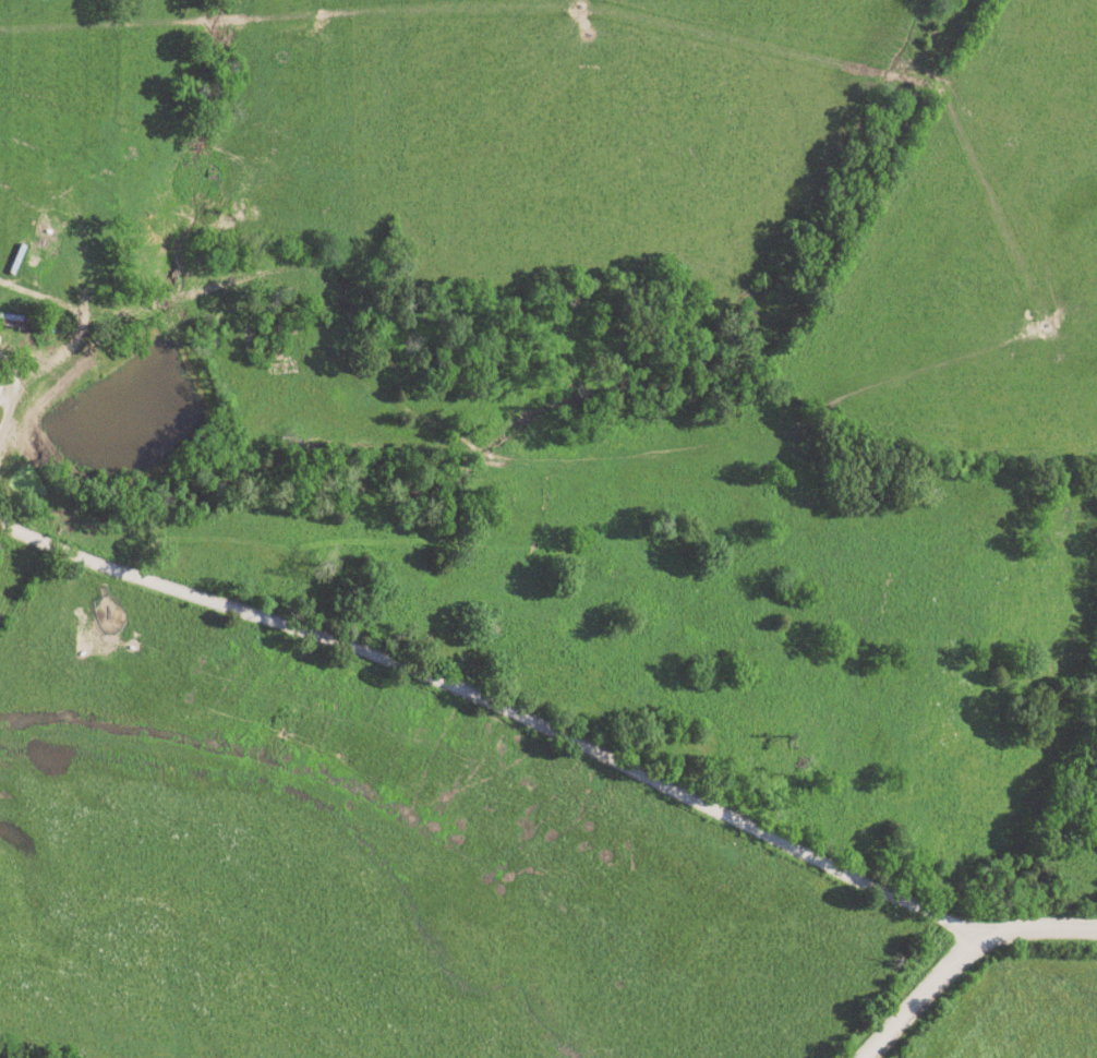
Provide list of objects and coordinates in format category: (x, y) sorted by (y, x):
road: (10, 394)
road: (496, 706)
road: (1032, 934)
road: (914, 999)

